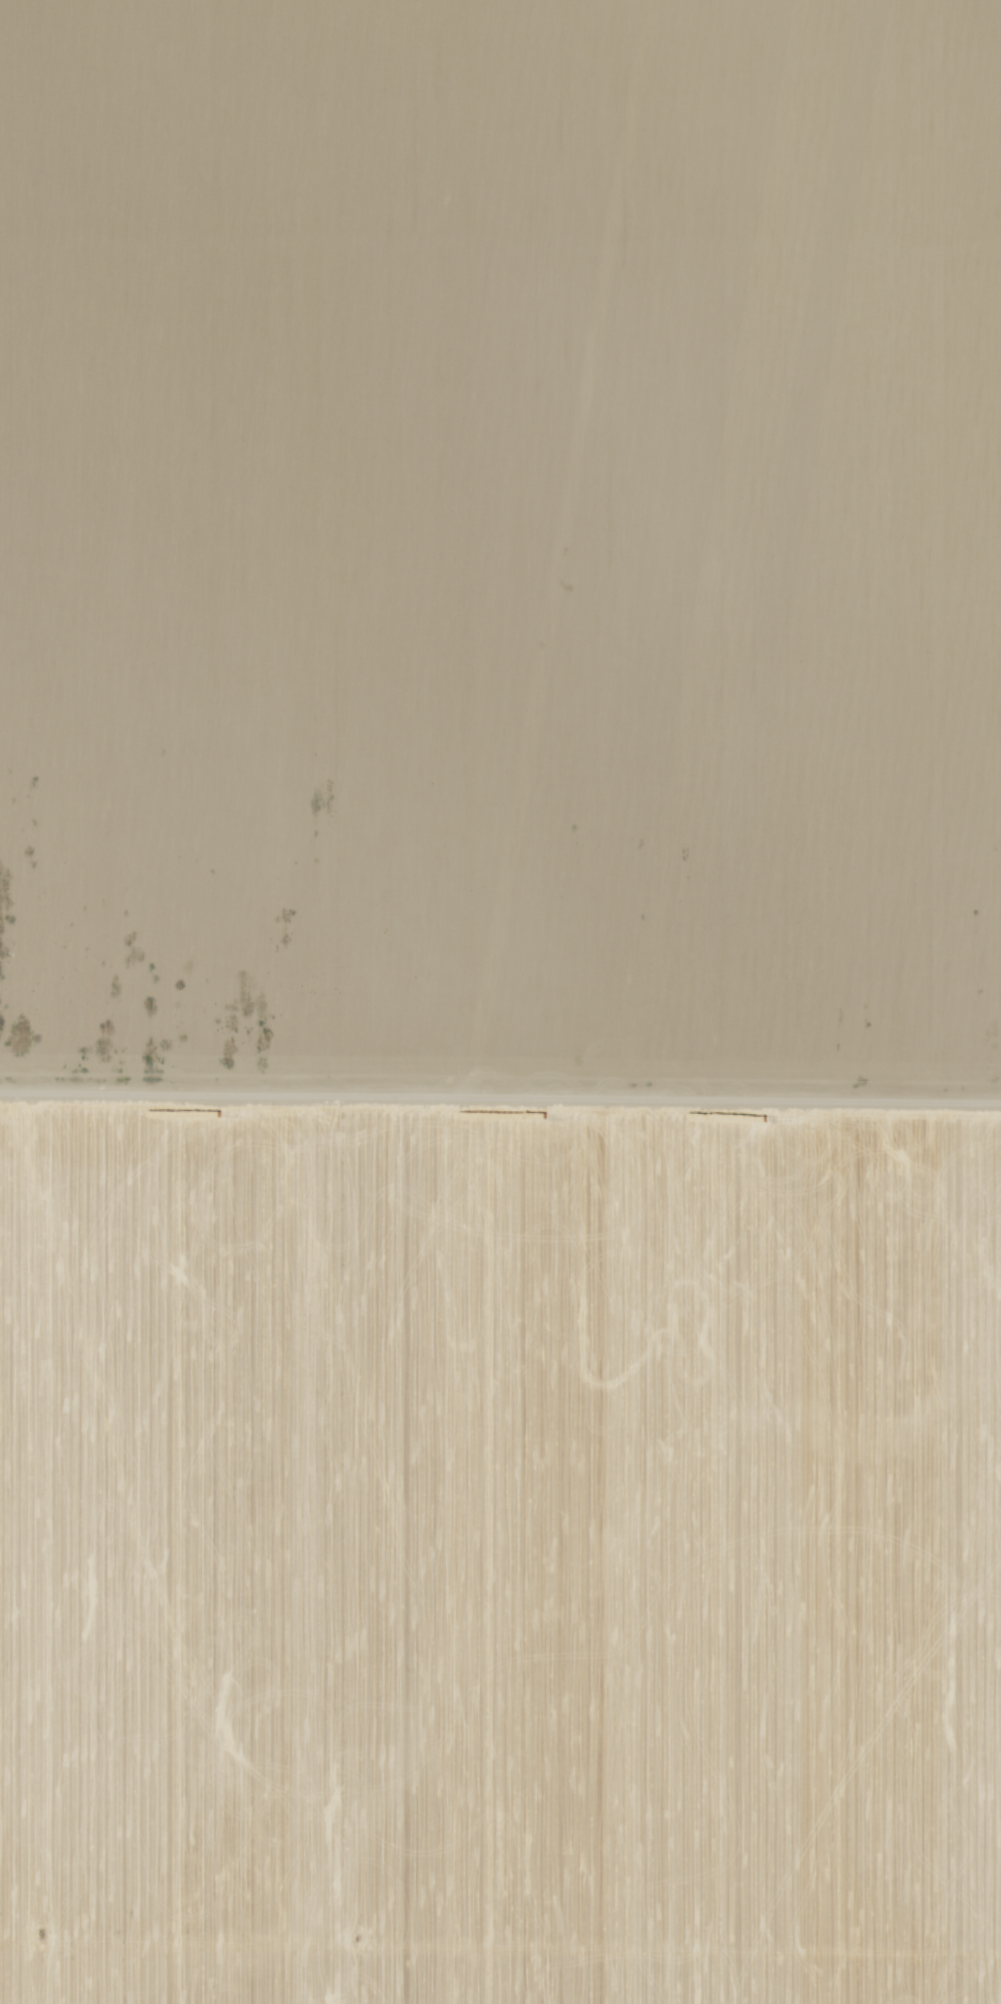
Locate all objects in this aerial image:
road: (500, 1091)
crop: (500, 1556)

